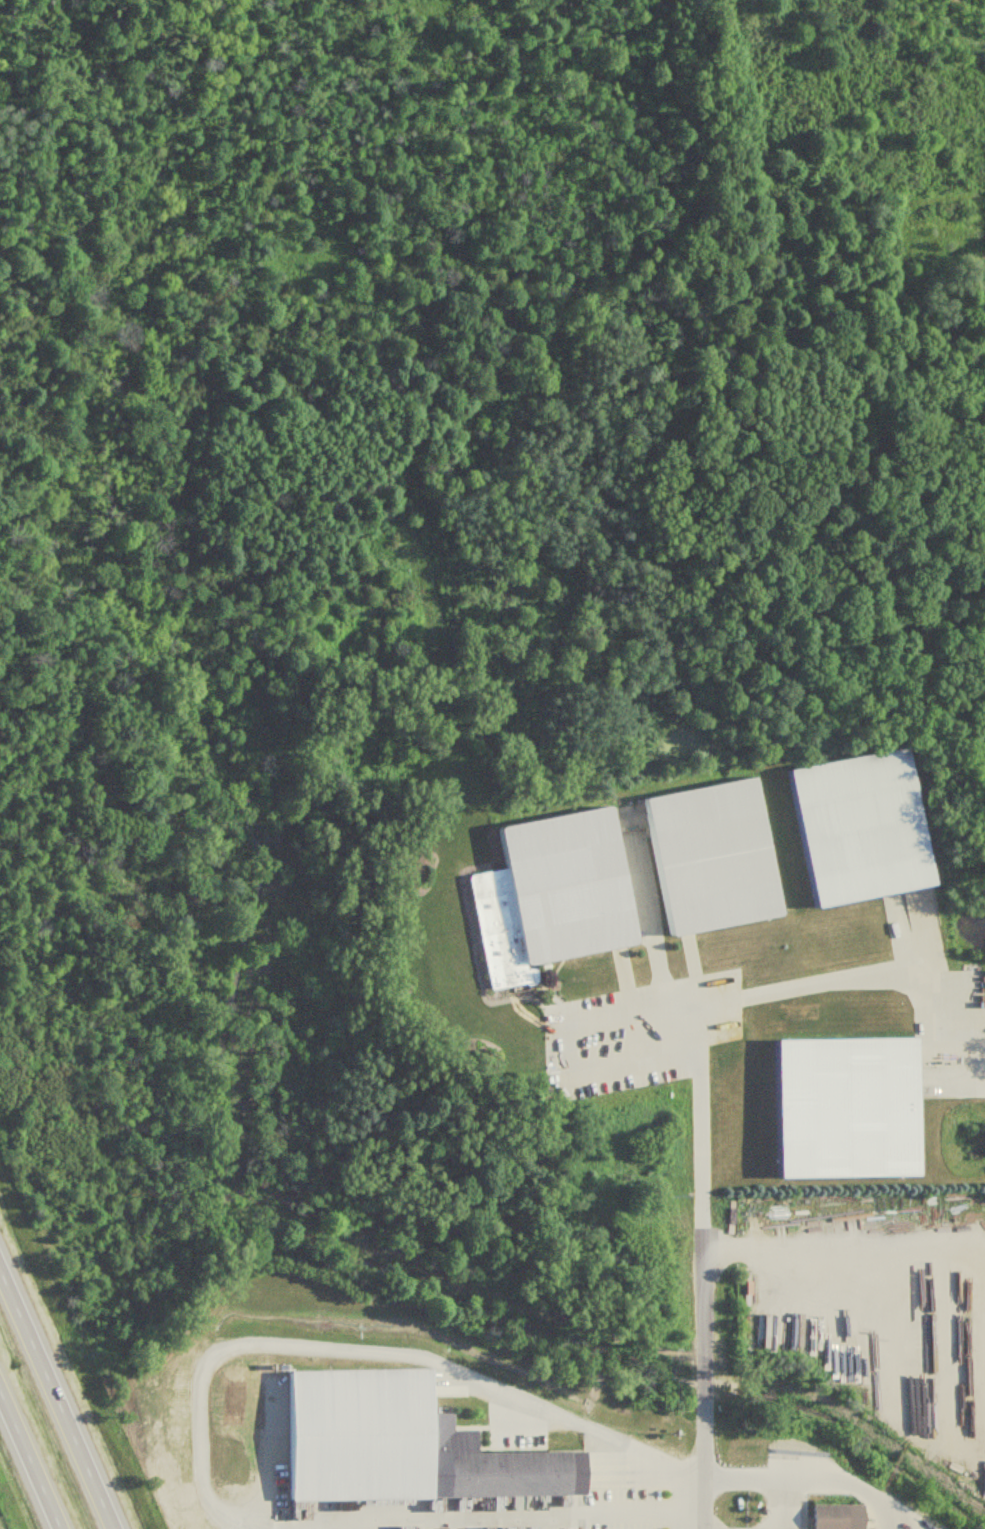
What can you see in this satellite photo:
building: (853, 824)
building: (706, 853)
building: (562, 883)
road: (649, 920)
road: (563, 1040)
road: (697, 1093)
building: (840, 1105)
road: (843, 1252)
road: (55, 1402)
road: (199, 1417)
building: (396, 1445)
road: (30, 1461)
road: (703, 1471)
road: (773, 1484)
building: (825, 1511)

